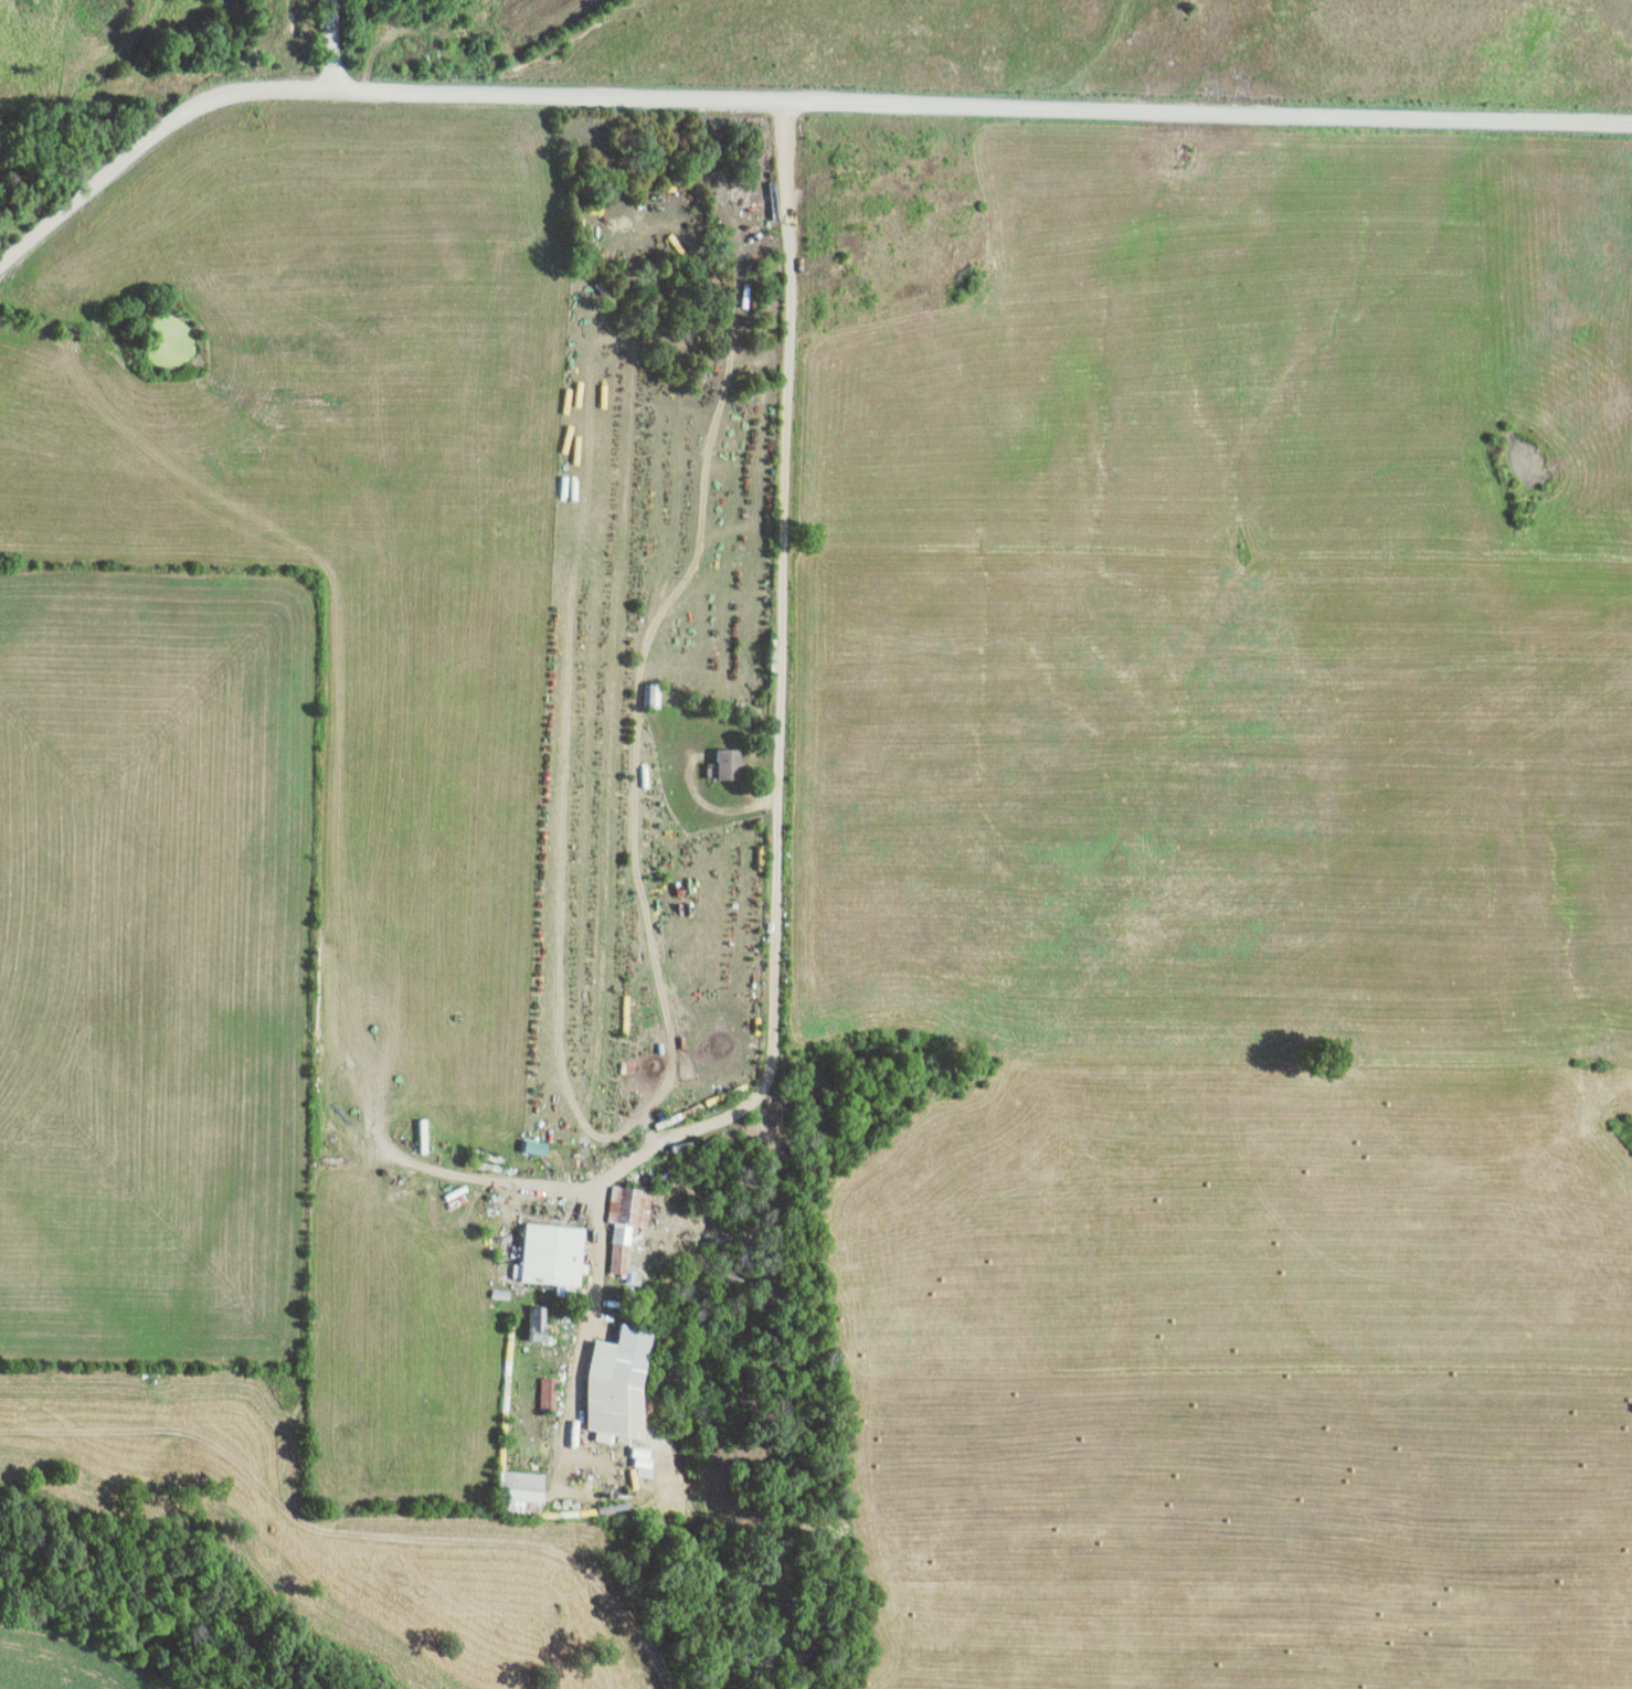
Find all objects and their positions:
road: (337, 42)
road: (784, 96)
building: (731, 766)
road: (780, 861)
building: (538, 1148)
building: (627, 1222)
building: (553, 1255)
building: (539, 1324)
building: (618, 1383)
building: (549, 1394)
building: (604, 1438)
building: (640, 1468)

